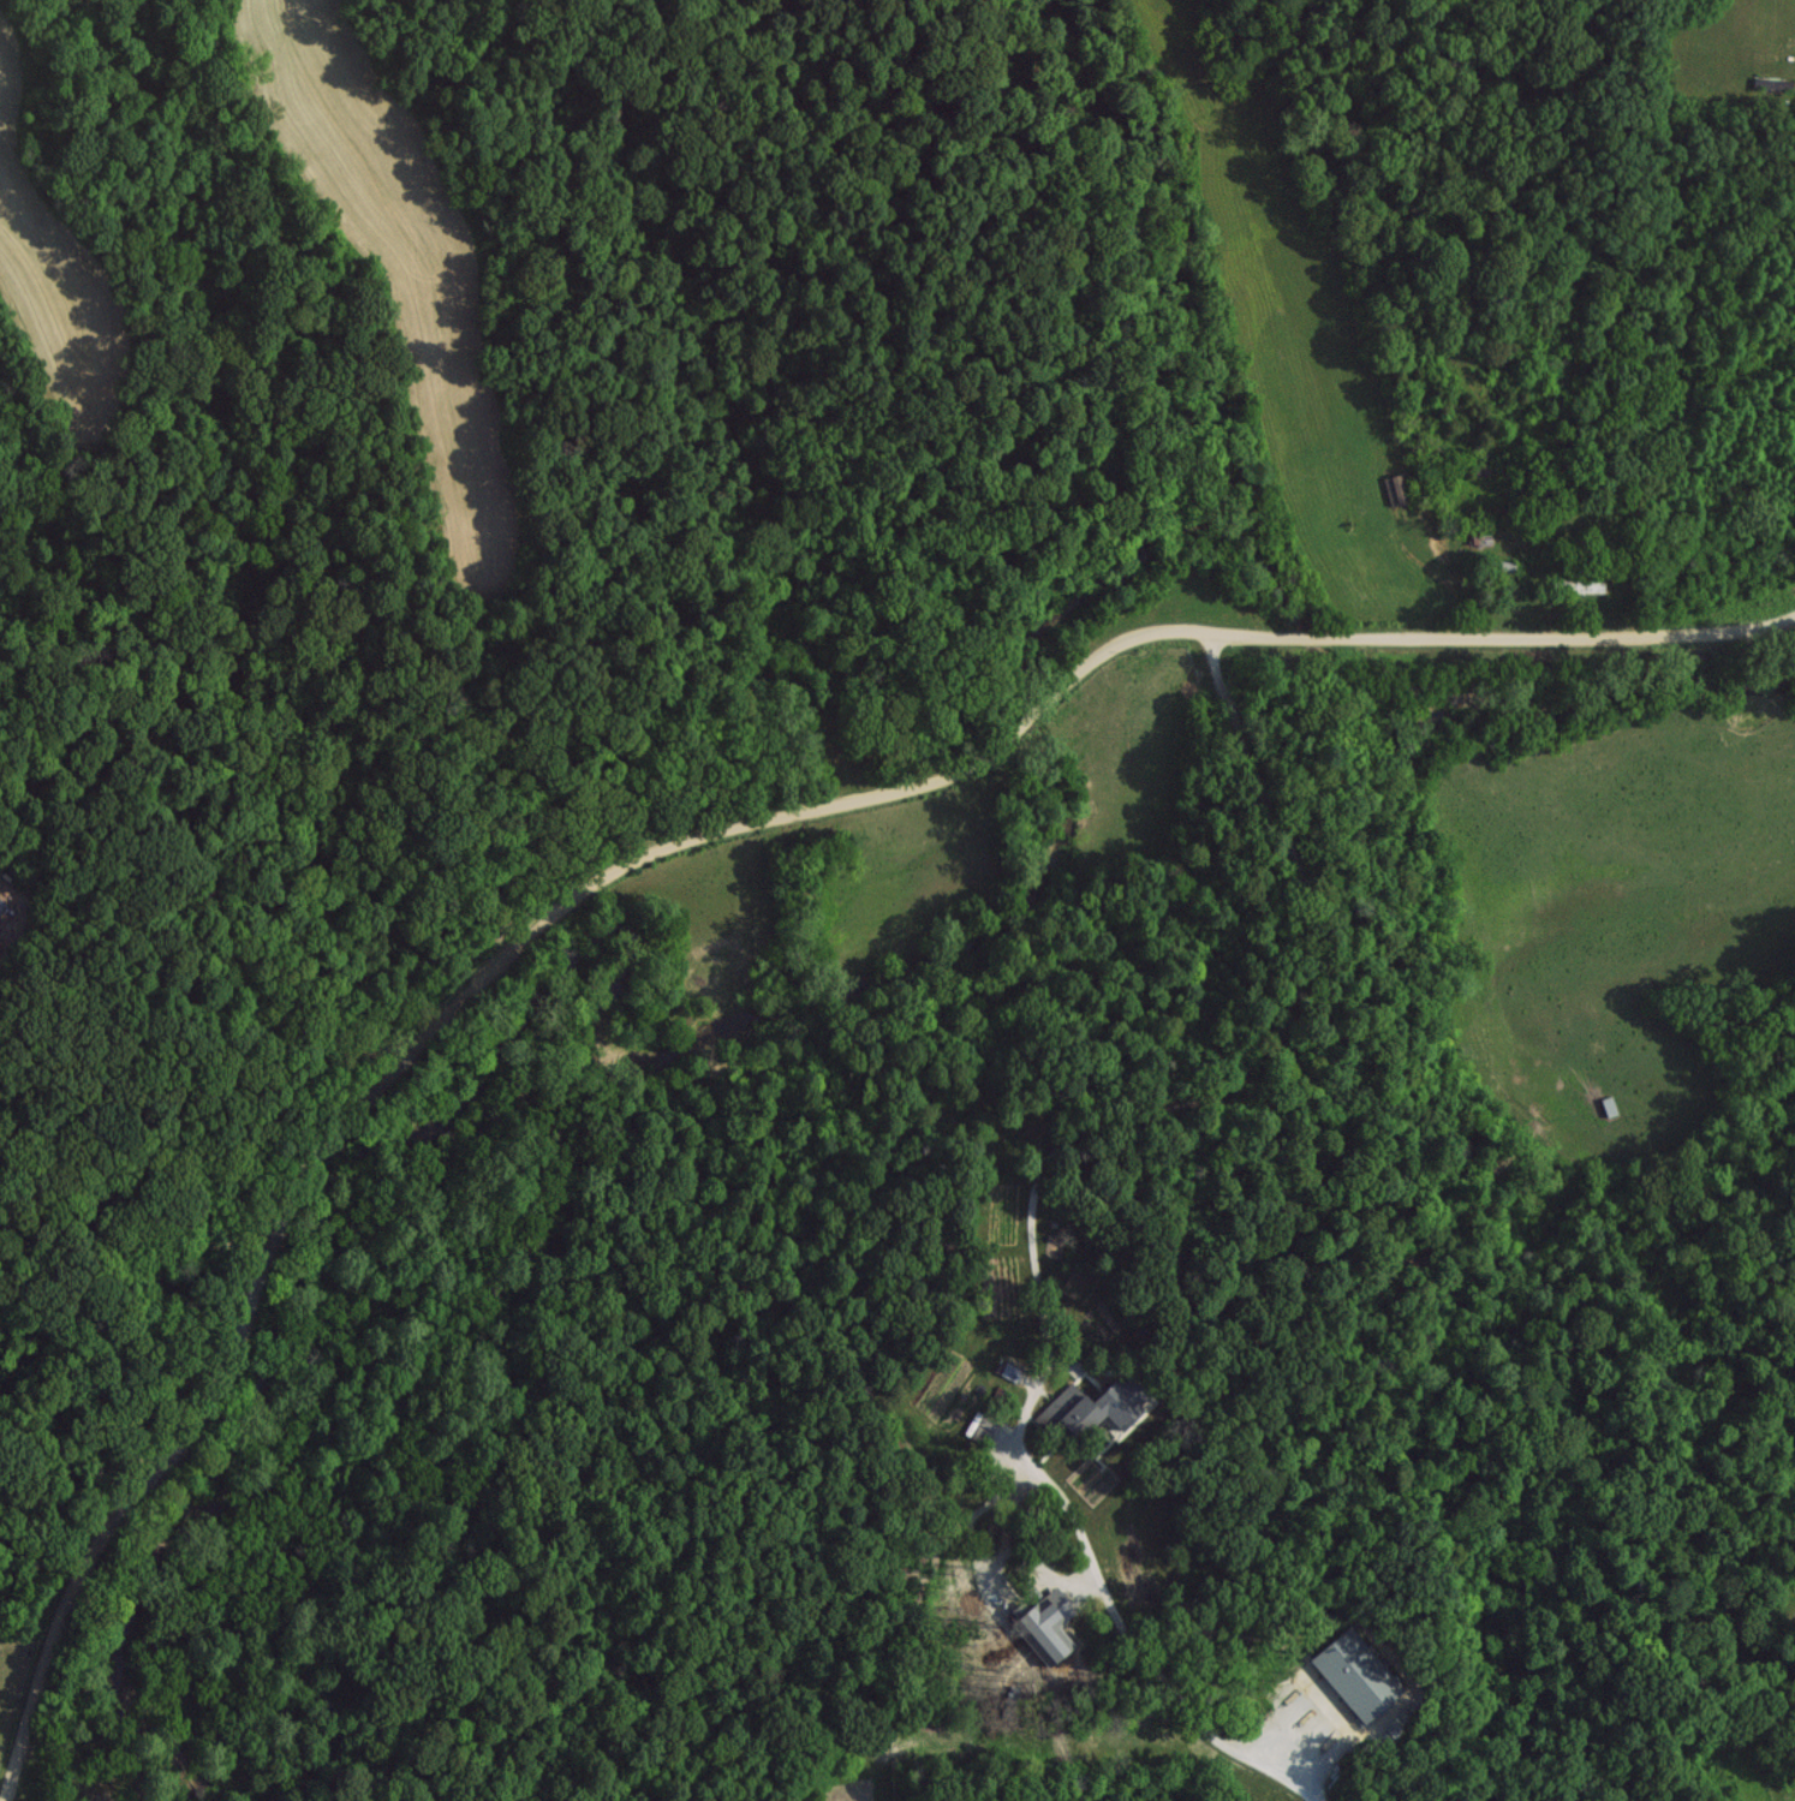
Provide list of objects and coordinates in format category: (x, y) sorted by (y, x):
building: (1397, 488)
road: (656, 857)
building: (0, 902)
road: (198, 974)
road: (1036, 1189)
road: (586, 1293)
building: (1007, 1368)
building: (1093, 1403)
building: (982, 1424)
road: (1036, 1555)
building: (1043, 1622)
building: (1353, 1672)

